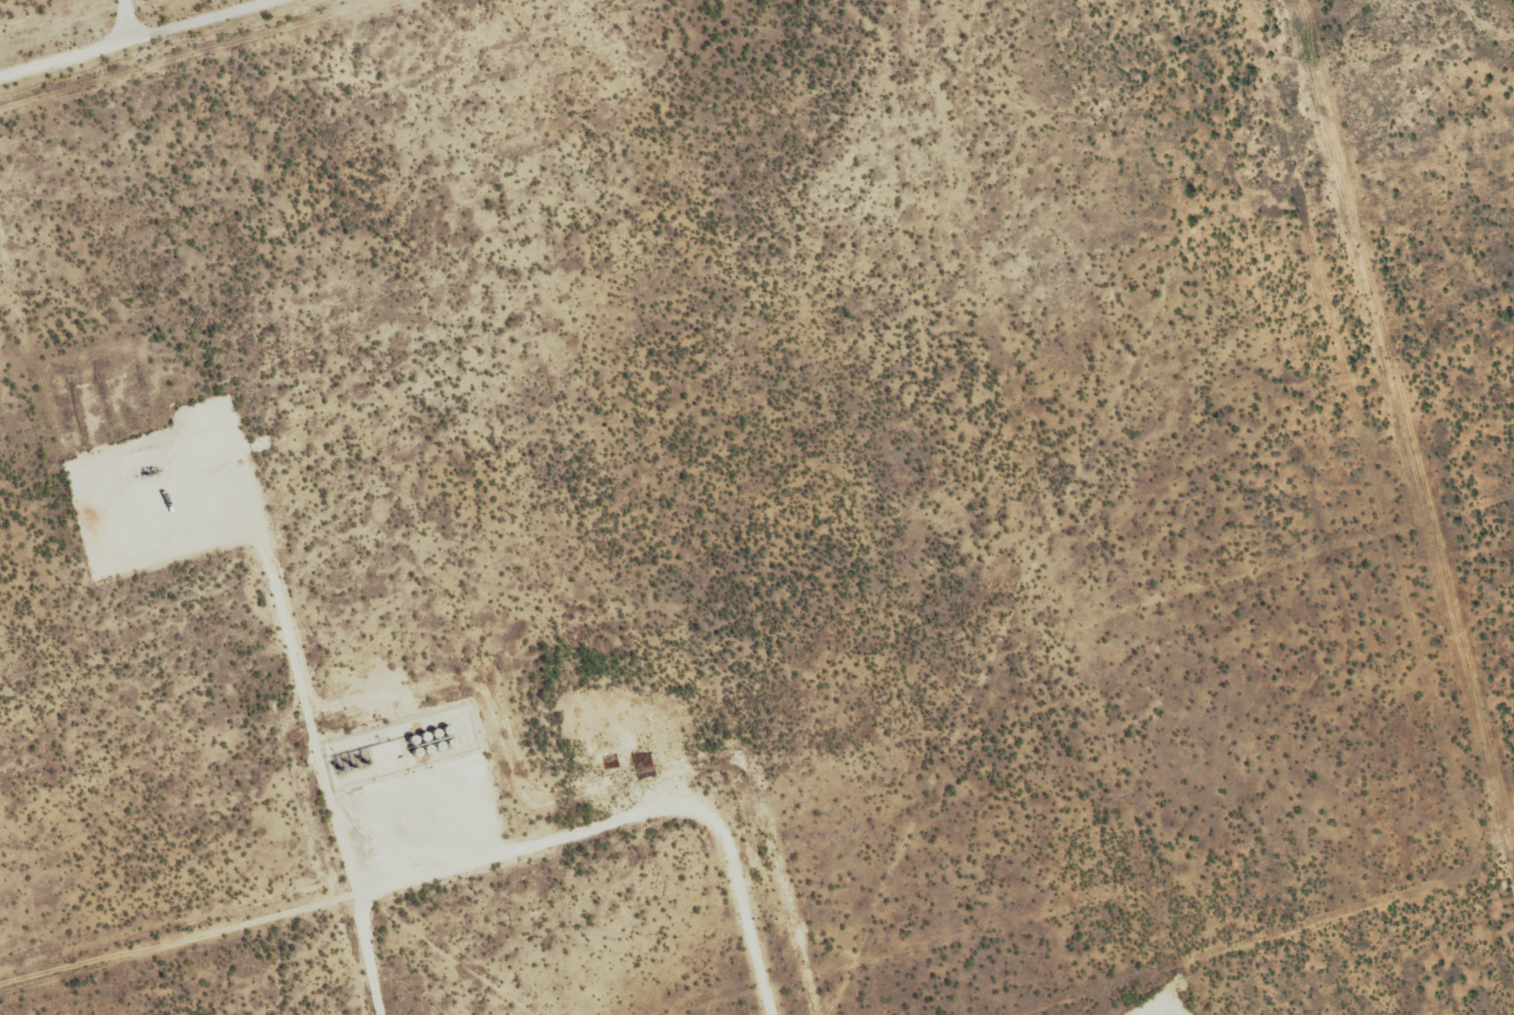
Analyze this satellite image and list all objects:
road: (517, 905)

